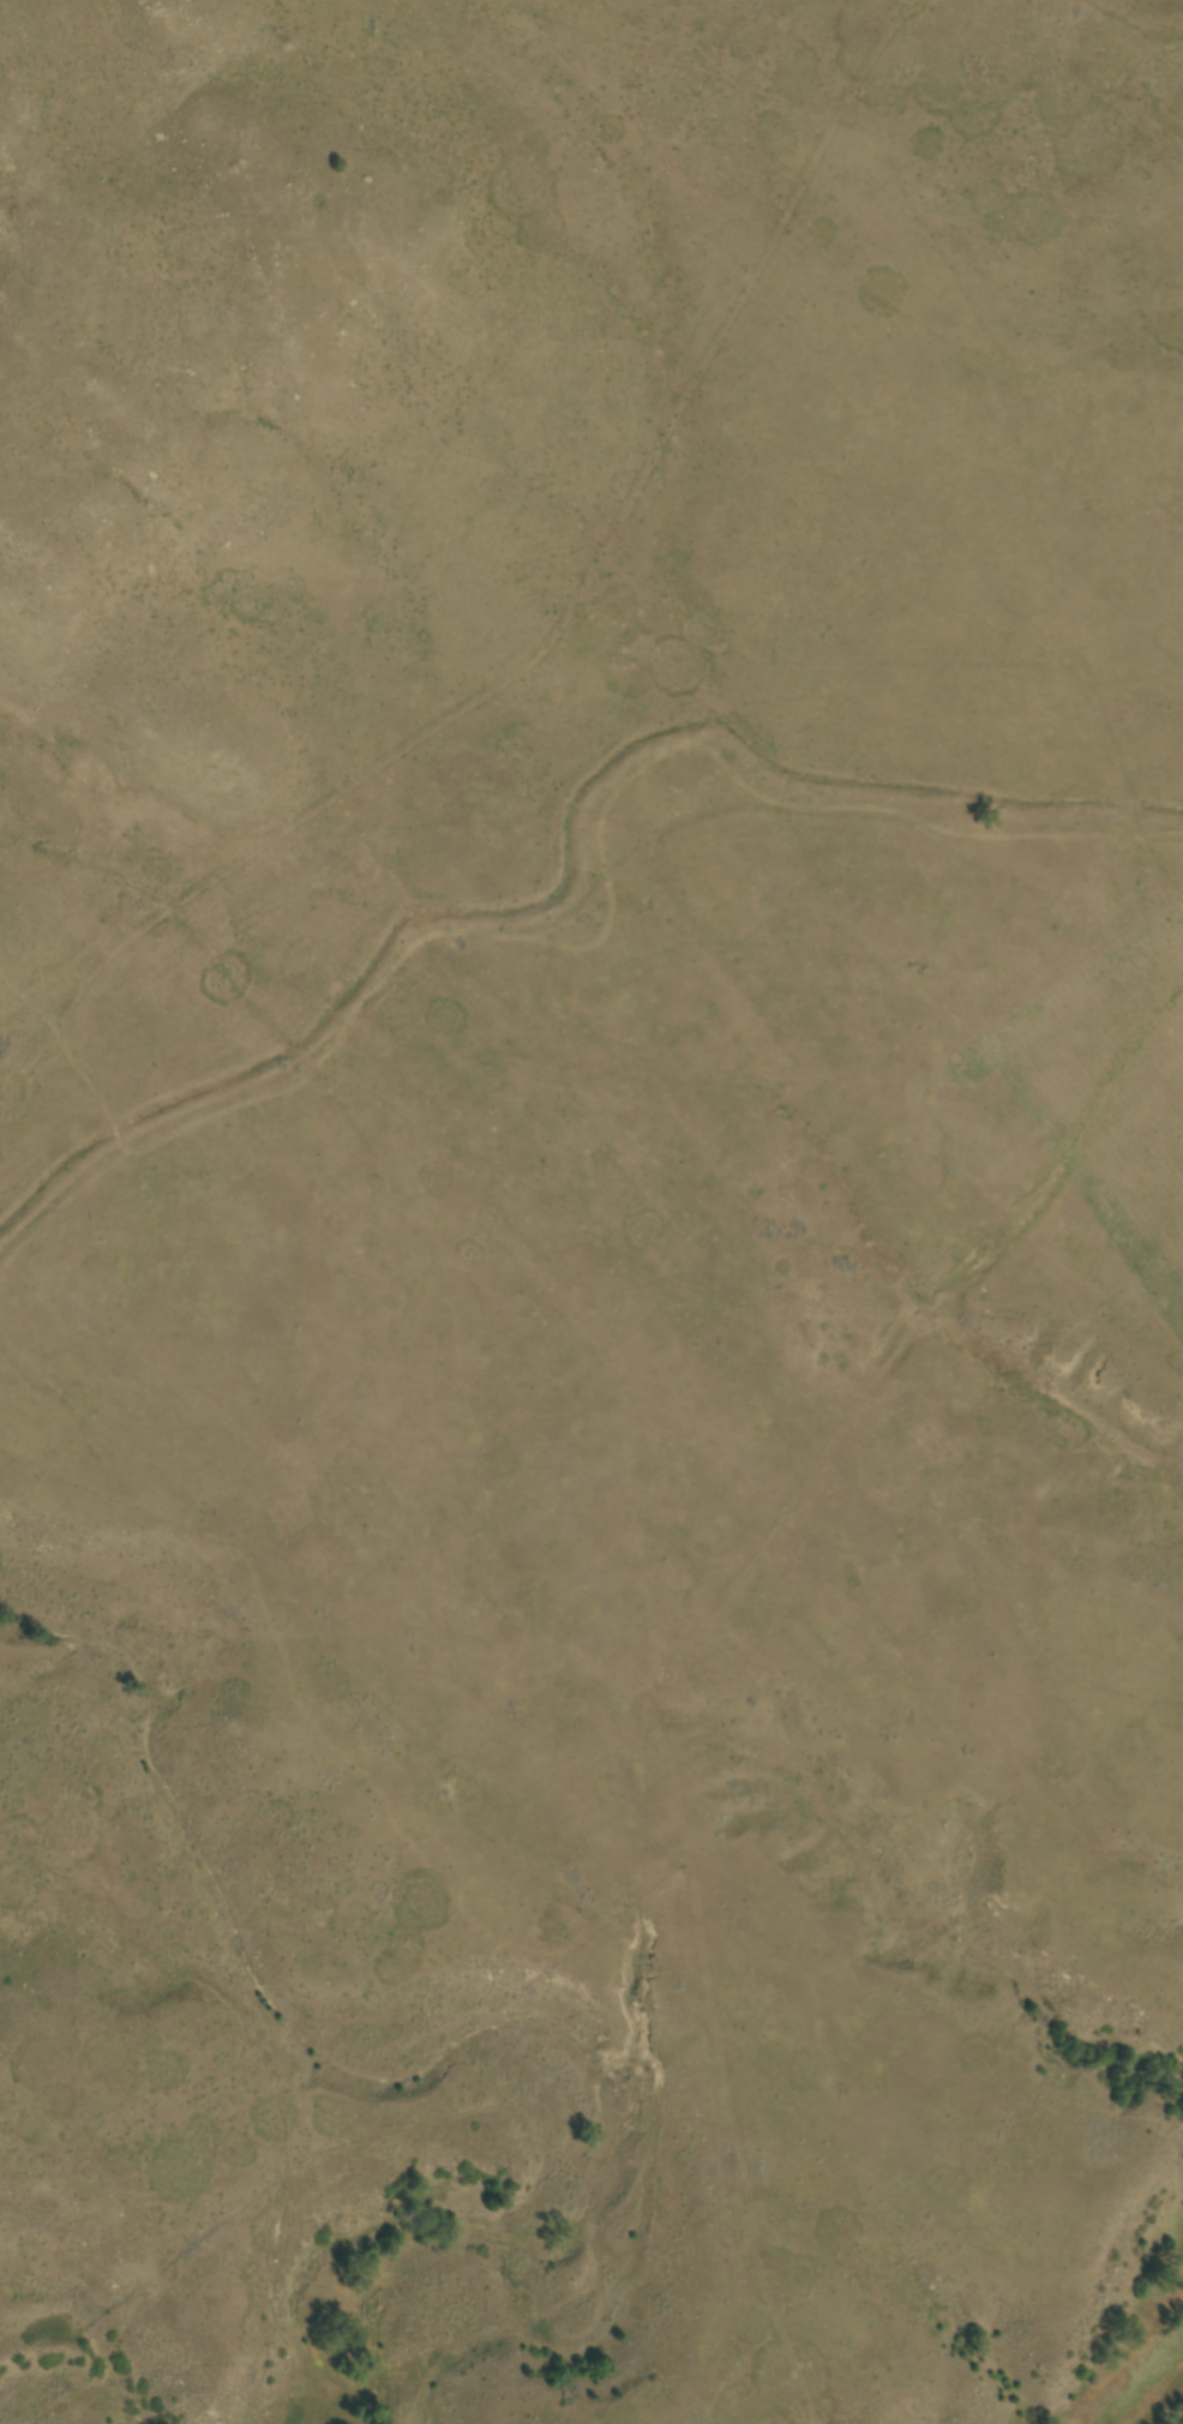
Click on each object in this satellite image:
park: (726, 2200)

